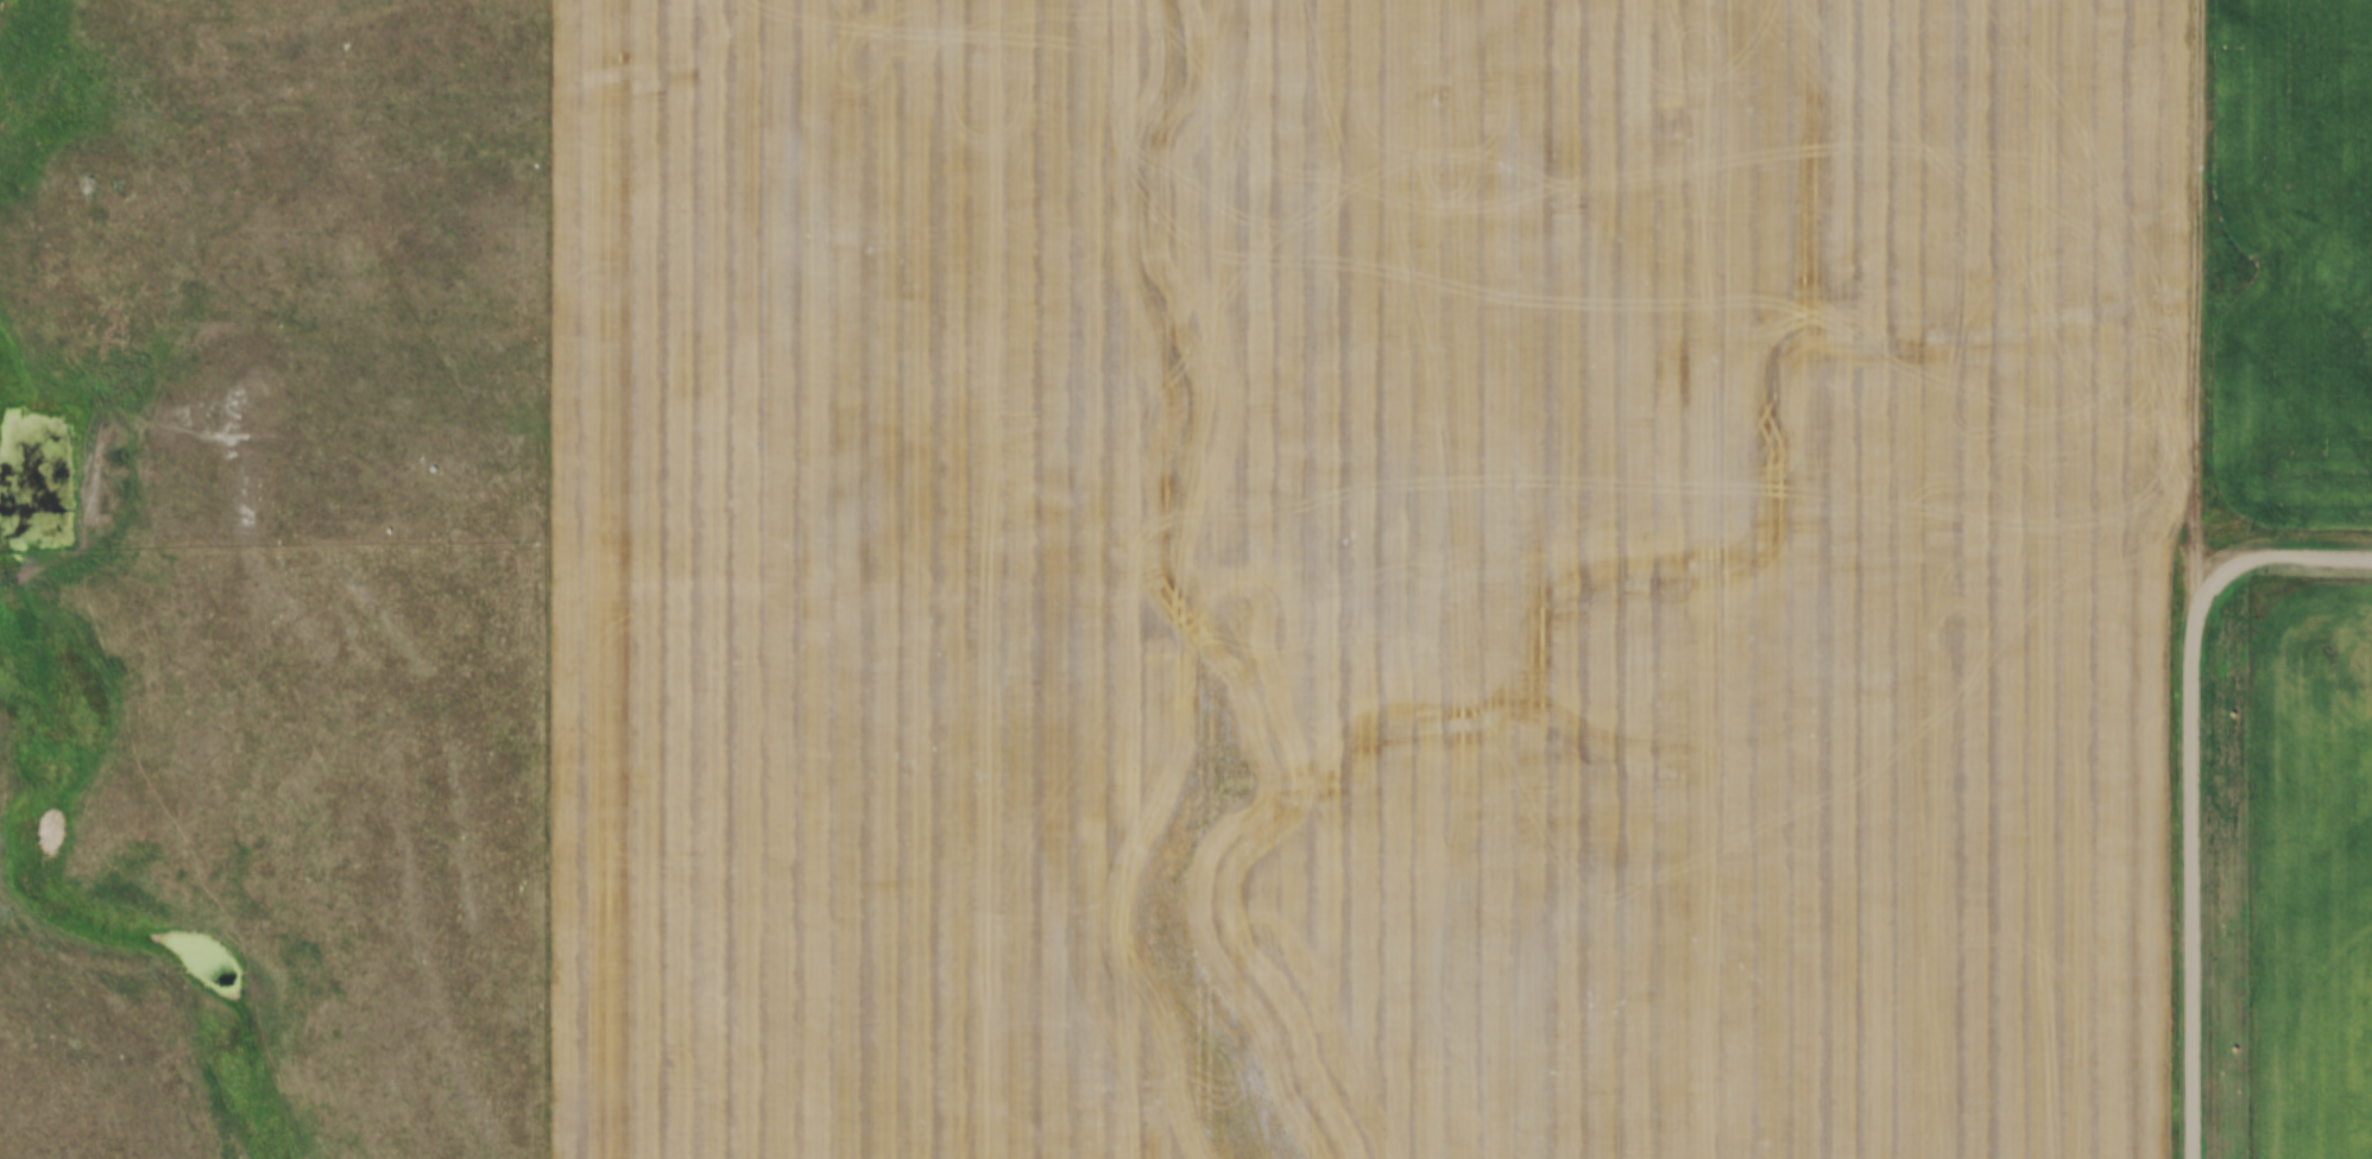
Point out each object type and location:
road: (2207, 280)
road: (2285, 562)
road: (2195, 860)

